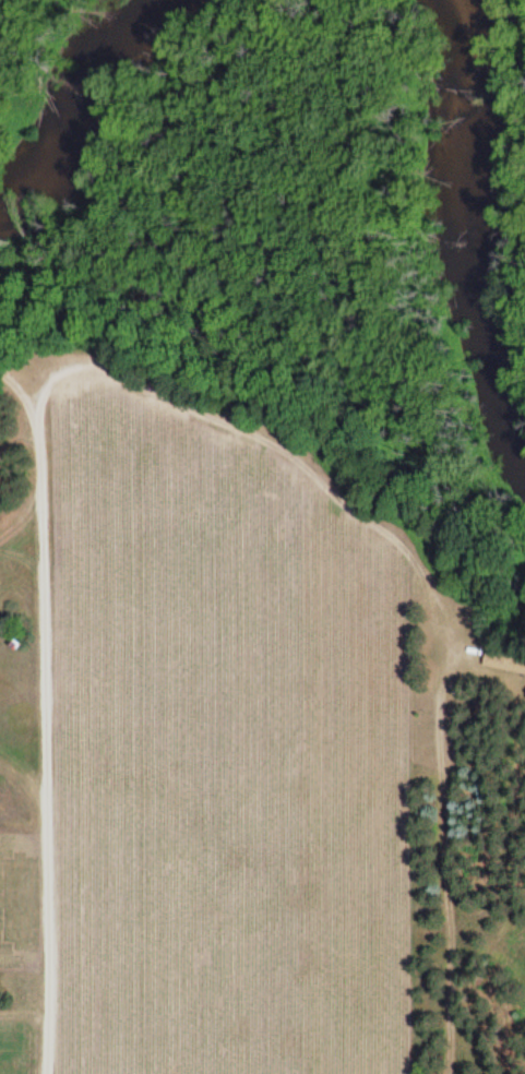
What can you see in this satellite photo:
river: (73, 105)
river: (467, 231)
building: (503, 660)
road: (45, 730)

